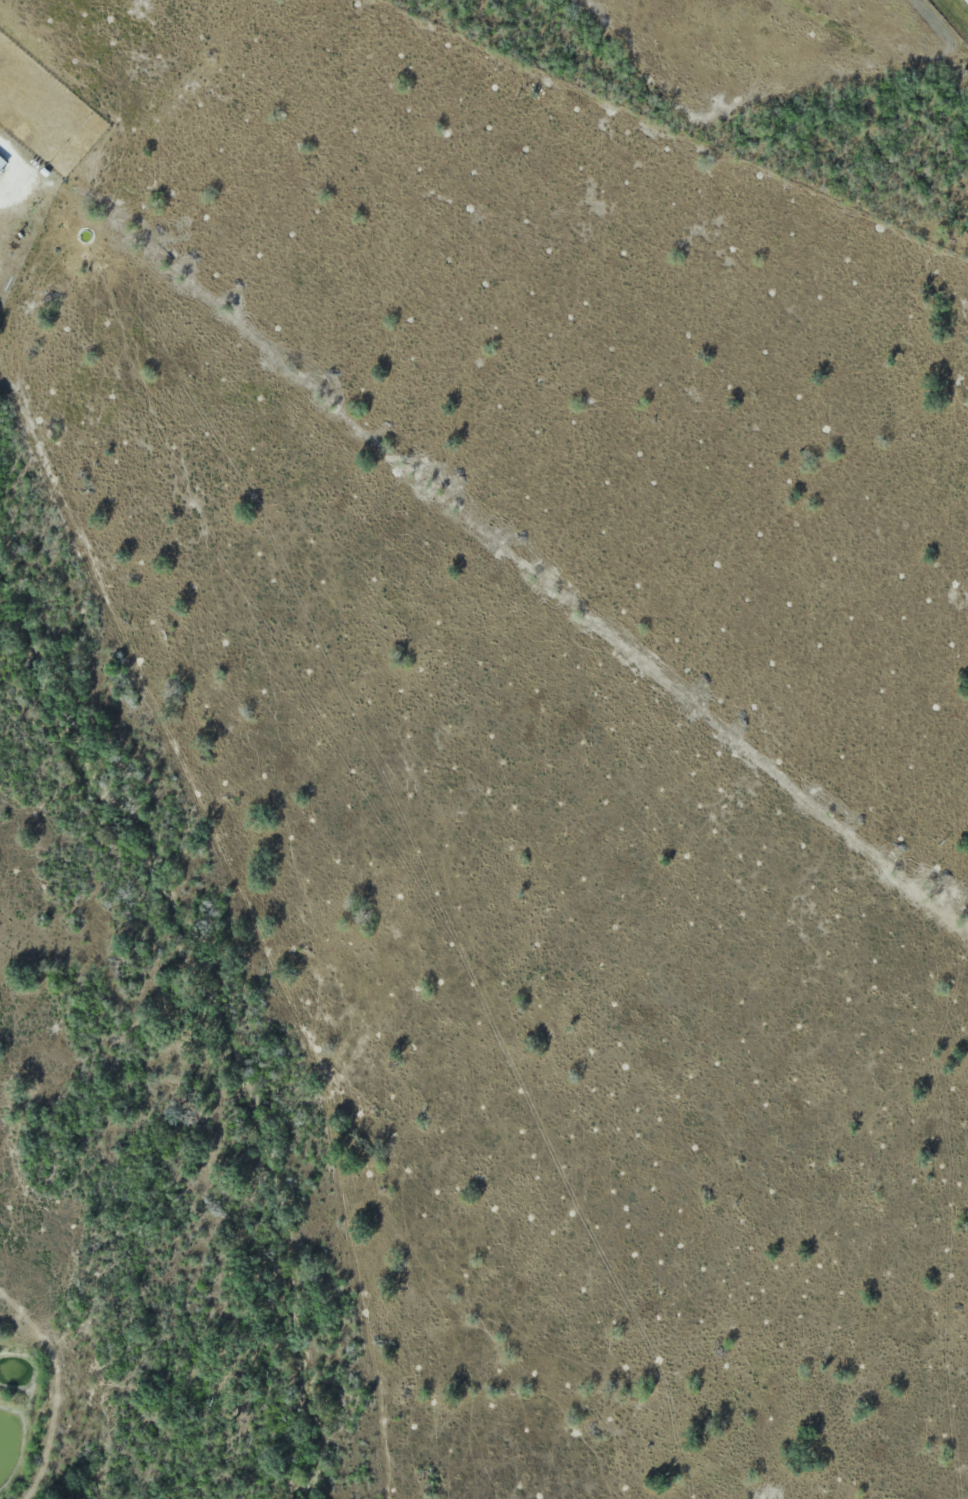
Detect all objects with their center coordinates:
building: (4, 164)

